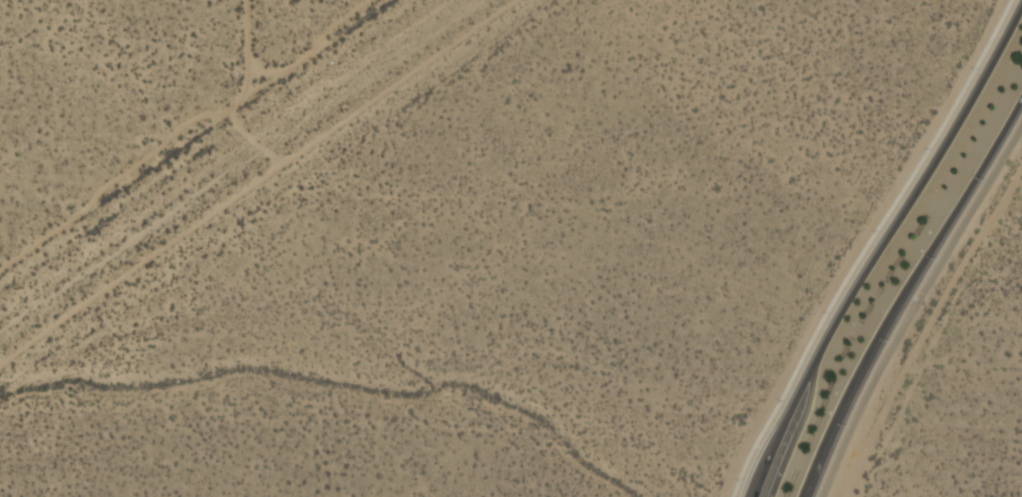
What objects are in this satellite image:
road: (880, 248)
road: (928, 255)
road: (913, 305)
road: (821, 455)

